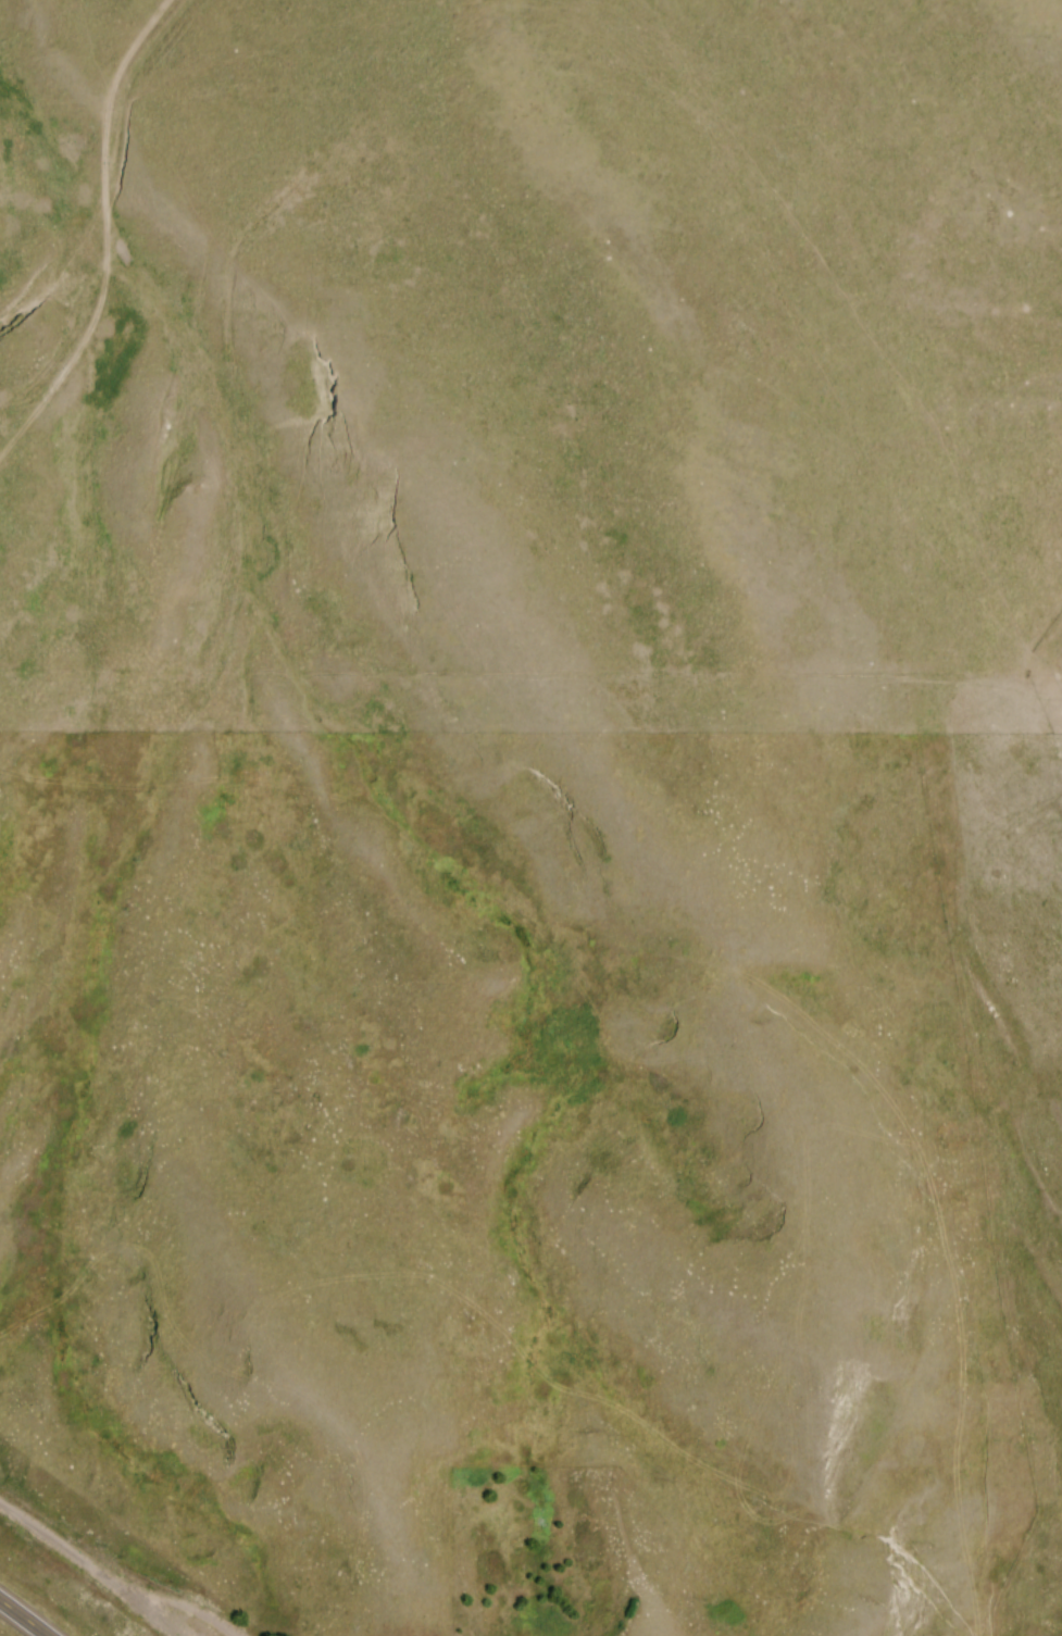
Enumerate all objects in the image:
road: (23, 1618)

